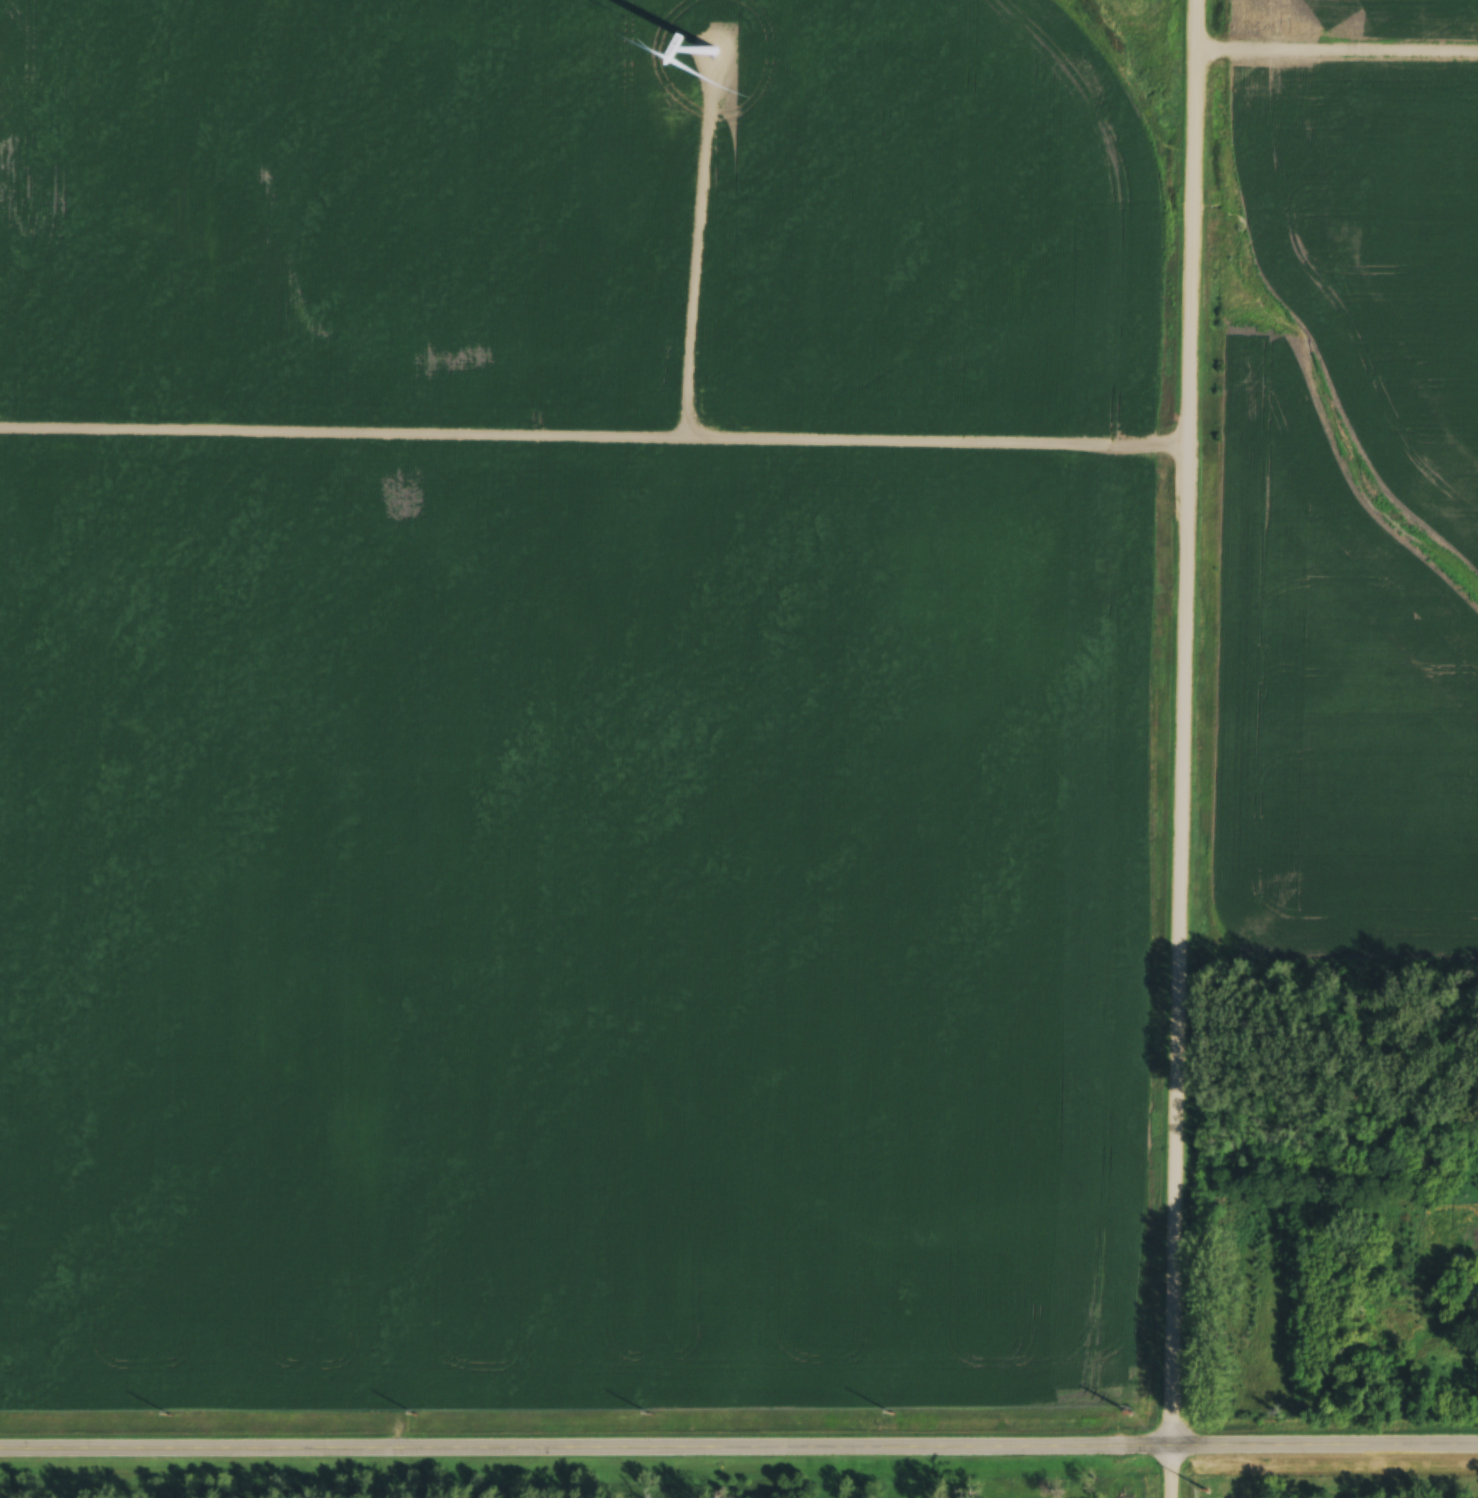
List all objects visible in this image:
wind turbine: (709, 53)
road: (1187, 748)
building: (1471, 1296)
power tower: (1132, 1417)
road: (1326, 1445)
road: (587, 1451)
power tower: (1207, 1494)

